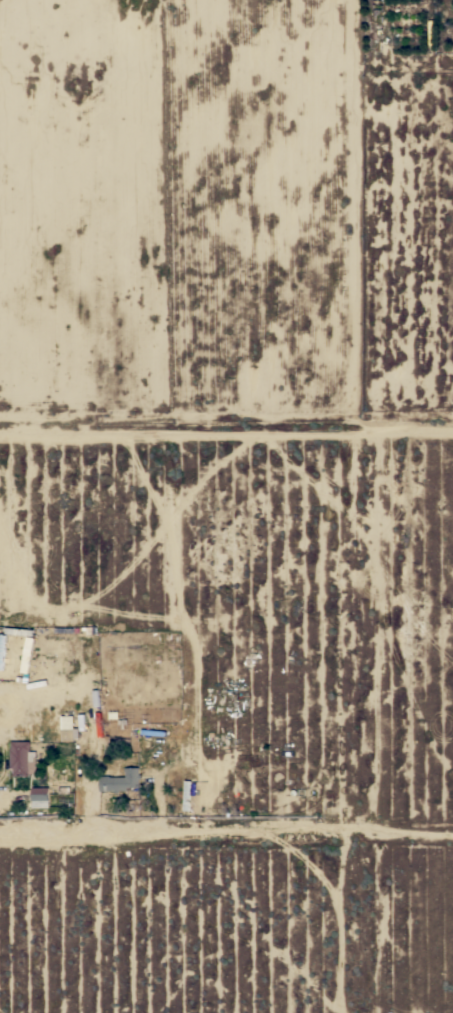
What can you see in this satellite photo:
building: (24, 652)
building: (66, 734)
building: (20, 759)
building: (120, 780)
building: (39, 798)
road: (226, 837)

